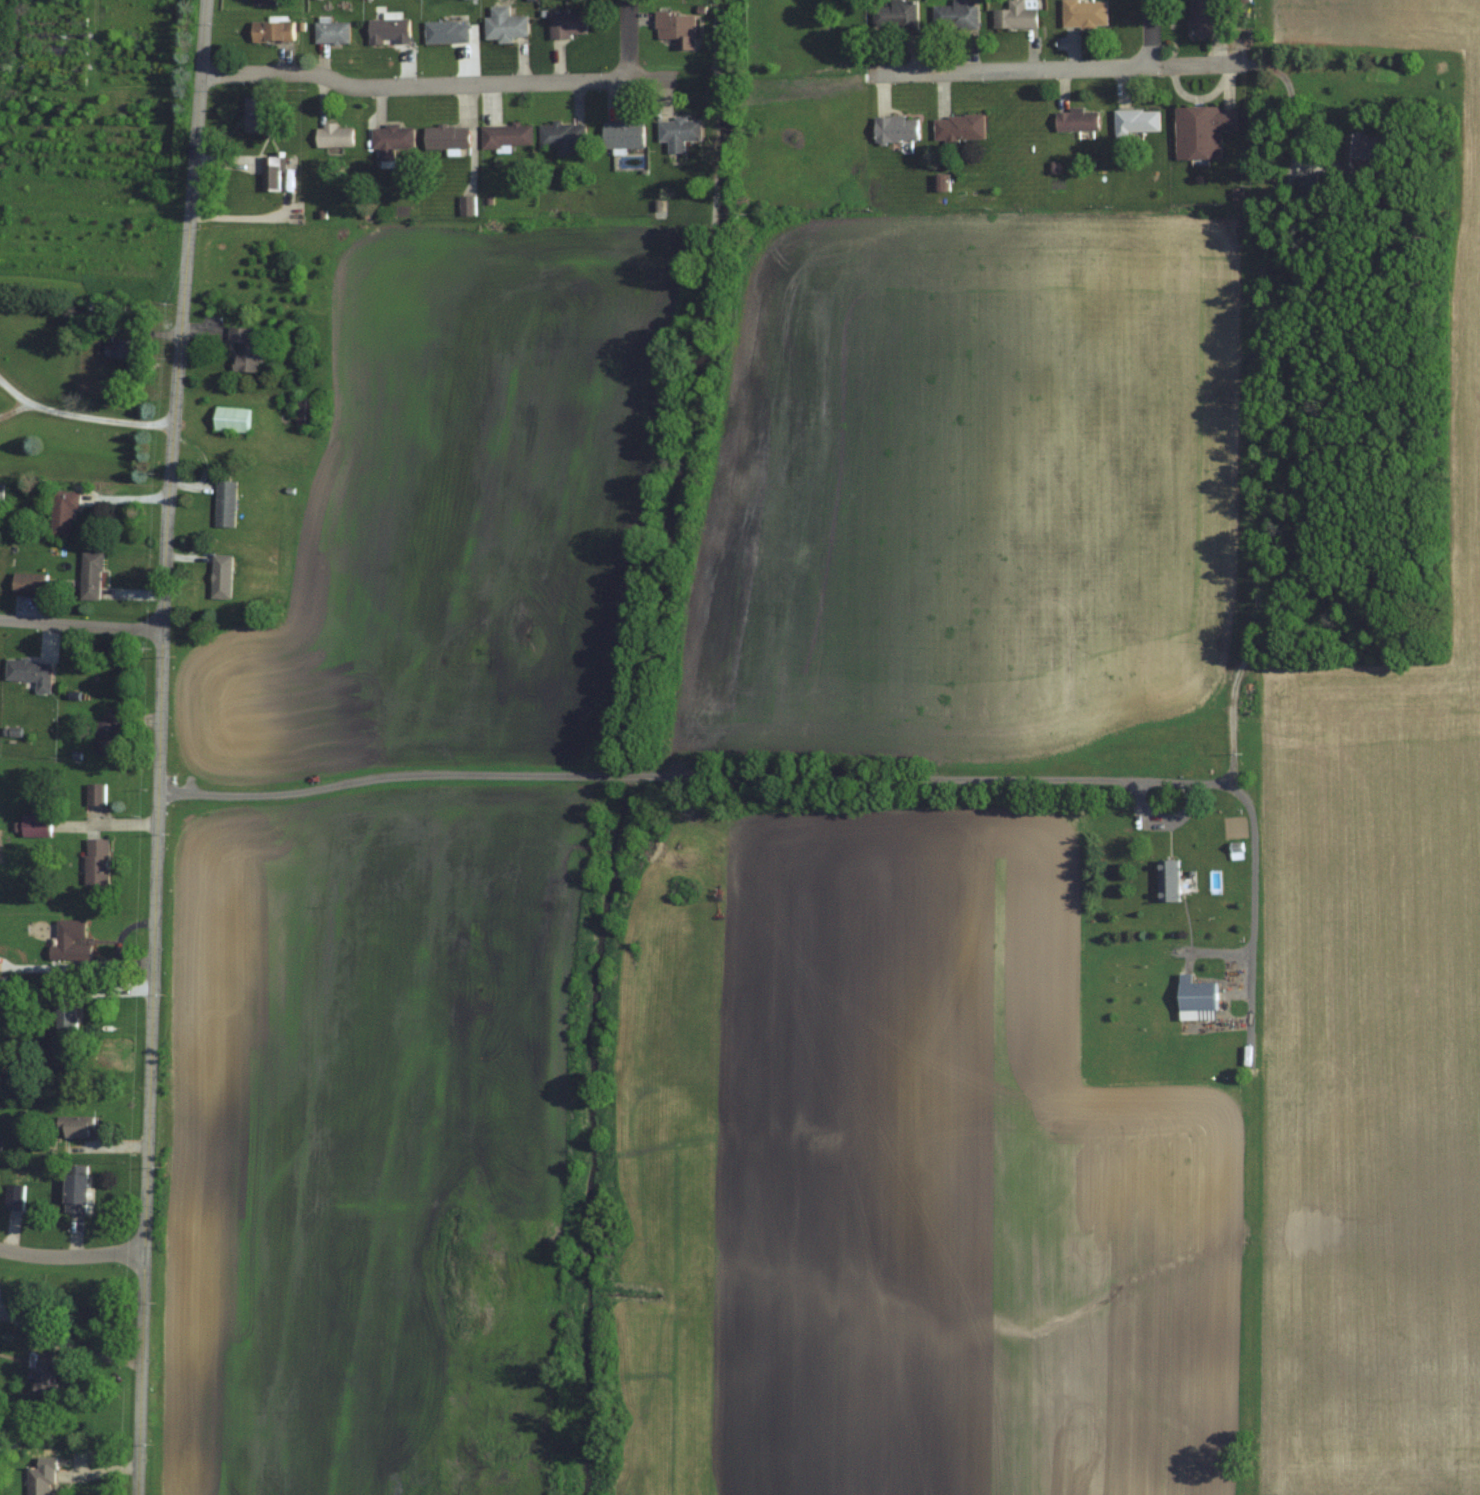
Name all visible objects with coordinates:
building: (265, 2)
building: (1083, 14)
building: (895, 15)
building: (955, 15)
building: (1015, 15)
building: (1204, 19)
building: (567, 24)
building: (503, 25)
building: (676, 28)
building: (271, 31)
building: (387, 31)
building: (445, 31)
building: (330, 32)
road: (1151, 33)
road: (629, 40)
road: (1198, 64)
road: (1014, 69)
road: (414, 85)
building: (256, 115)
building: (1075, 120)
building: (1135, 122)
building: (958, 128)
building: (895, 129)
building: (1201, 131)
building: (678, 132)
building: (333, 135)
building: (506, 135)
building: (622, 135)
building: (446, 136)
building: (562, 136)
building: (389, 141)
building: (1368, 154)
building: (270, 174)
building: (940, 183)
building: (465, 204)
building: (104, 310)
building: (119, 348)
building: (245, 350)
road: (12, 409)
building: (305, 412)
road: (80, 417)
building: (231, 420)
building: (1, 491)
building: (225, 503)
building: (63, 512)
building: (91, 574)
building: (221, 576)
building: (29, 583)
road: (81, 624)
building: (30, 671)
building: (108, 733)
road: (160, 746)
road: (638, 773)
road: (392, 775)
road: (1050, 776)
building: (95, 793)
building: (35, 824)
building: (96, 860)
building: (1169, 880)
building: (70, 941)
building: (1197, 998)
building: (64, 1007)
building: (76, 1125)
building: (75, 1188)
road: (73, 1254)
road: (69, 1345)
building: (43, 1373)
building: (40, 1480)

